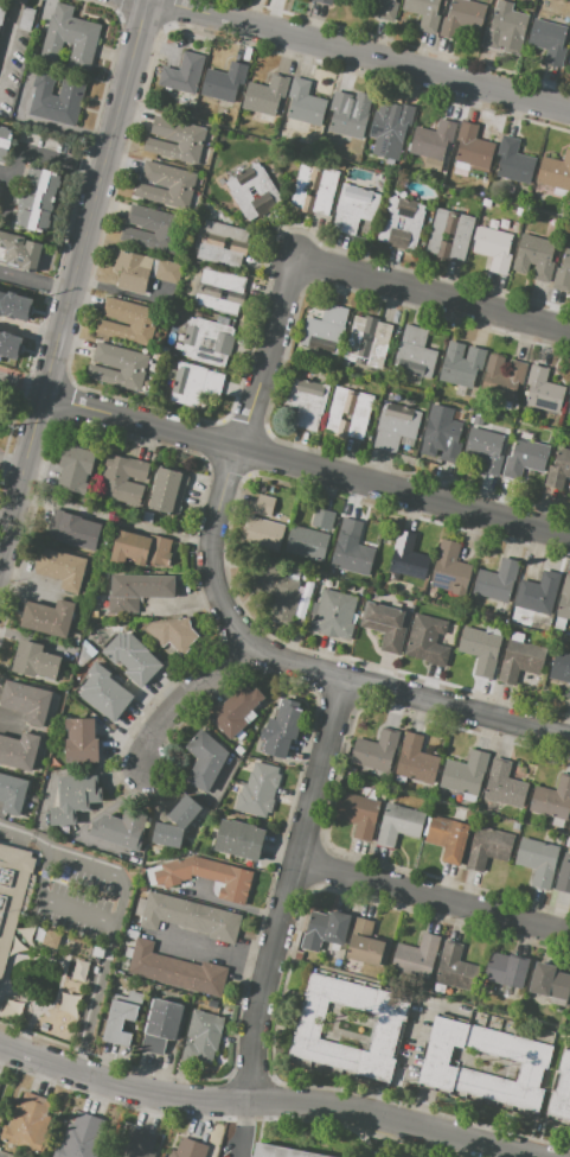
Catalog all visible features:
building: (391, 0)
building: (326, 1)
building: (2, 12)
building: (425, 13)
building: (462, 18)
building: (26, 19)
building: (506, 30)
road: (8, 31)
building: (70, 38)
building: (547, 40)
building: (569, 50)
road: (360, 56)
building: (182, 74)
building: (224, 82)
building: (57, 95)
building: (265, 96)
building: (305, 103)
building: (350, 114)
building: (390, 129)
building: (4, 140)
building: (175, 140)
building: (433, 140)
building: (472, 151)
road: (33, 155)
building: (515, 163)
building: (555, 172)
road: (7, 176)
building: (220, 182)
building: (165, 186)
building: (314, 187)
building: (267, 192)
building: (37, 198)
building: (488, 204)
building: (352, 210)
building: (412, 224)
building: (152, 228)
building: (449, 234)
building: (222, 243)
building: (494, 244)
building: (19, 252)
building: (534, 258)
building: (141, 271)
building: (563, 274)
road: (73, 279)
road: (34, 284)
road: (434, 291)
building: (219, 292)
building: (14, 305)
building: (128, 322)
building: (325, 326)
road: (28, 331)
building: (206, 341)
building: (367, 341)
building: (9, 343)
building: (414, 354)
building: (345, 364)
building: (119, 367)
building: (462, 367)
building: (501, 381)
road: (23, 382)
building: (194, 386)
building: (543, 389)
building: (569, 393)
building: (306, 402)
building: (515, 407)
building: (569, 411)
building: (348, 412)
building: (476, 420)
building: (395, 427)
building: (443, 437)
building: (485, 449)
road: (236, 453)
building: (525, 456)
road: (13, 460)
road: (306, 466)
building: (75, 469)
building: (558, 469)
building: (123, 478)
building: (167, 490)
building: (146, 516)
building: (322, 519)
building: (350, 528)
building: (73, 529)
building: (263, 534)
building: (307, 542)
building: (141, 549)
building: (352, 557)
building: (408, 557)
building: (62, 568)
building: (450, 570)
building: (341, 573)
building: (393, 577)
building: (498, 580)
building: (137, 590)
building: (280, 592)
building: (538, 593)
building: (564, 599)
building: (333, 615)
building: (49, 617)
building: (559, 623)
building: (385, 625)
building: (173, 631)
building: (427, 640)
building: (481, 648)
building: (133, 657)
building: (519, 659)
building: (34, 660)
building: (561, 667)
building: (104, 692)
building: (569, 692)
road: (409, 695)
road: (180, 698)
building: (26, 700)
building: (235, 712)
building: (282, 729)
building: (81, 742)
building: (18, 750)
building: (374, 751)
building: (415, 759)
building: (205, 761)
building: (465, 774)
building: (504, 784)
building: (258, 790)
building: (12, 793)
building: (77, 793)
building: (553, 800)
building: (184, 810)
building: (358, 814)
building: (398, 824)
building: (121, 828)
building: (212, 832)
building: (569, 832)
building: (167, 835)
building: (447, 837)
building: (238, 839)
building: (568, 841)
building: (487, 847)
building: (537, 860)
building: (205, 877)
building: (563, 877)
road: (292, 889)
building: (11, 894)
road: (435, 897)
road: (51, 901)
road: (237, 905)
road: (116, 910)
building: (187, 916)
building: (325, 929)
building: (129, 933)
building: (41, 937)
building: (367, 943)
road: (217, 949)
building: (96, 952)
building: (416, 956)
building: (338, 962)
building: (97, 965)
building: (455, 967)
building: (505, 968)
building: (81, 970)
building: (174, 970)
building: (550, 983)
building: (434, 986)
building: (68, 1004)
building: (12, 1010)
building: (122, 1016)
building: (488, 1024)
building: (160, 1025)
building: (44, 1028)
building: (385, 1029)
building: (203, 1036)
building: (534, 1063)
building: (561, 1091)
road: (265, 1101)
building: (26, 1124)
road: (238, 1129)
building: (81, 1137)
building: (135, 1144)
building: (188, 1149)
building: (280, 1152)

